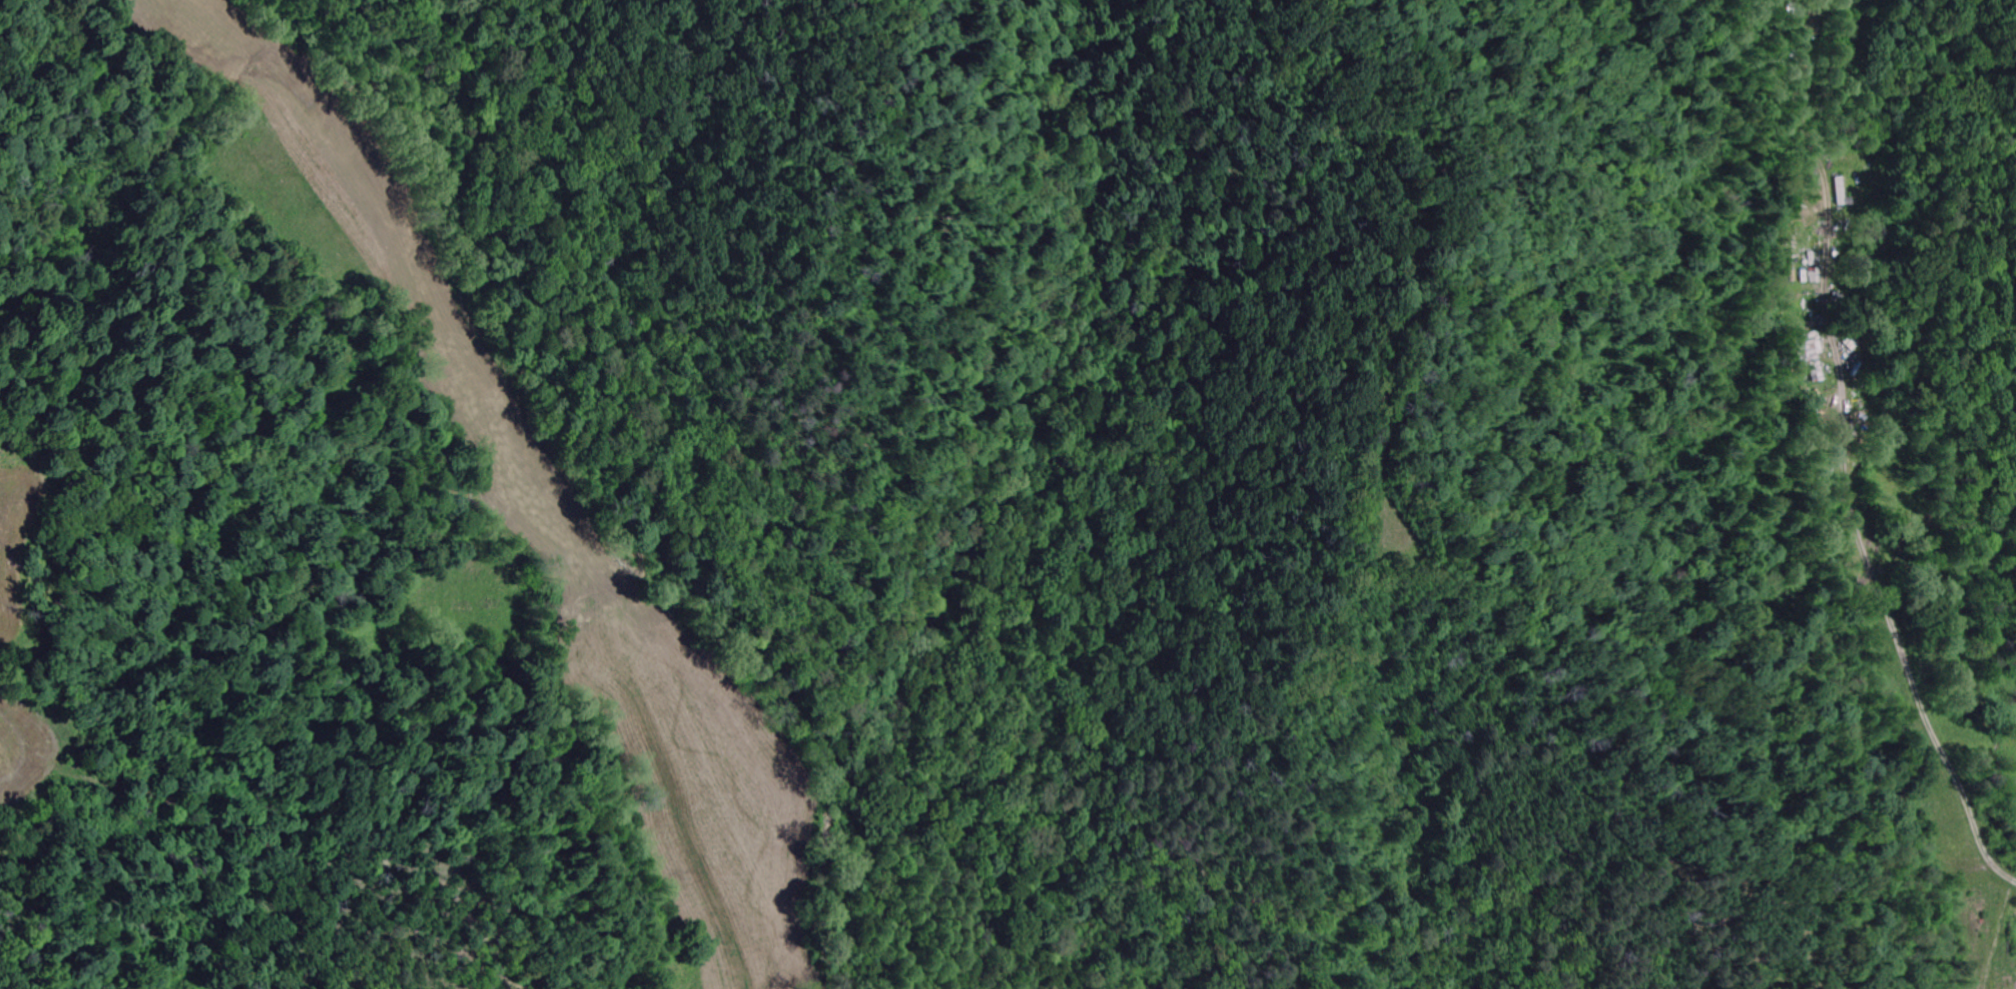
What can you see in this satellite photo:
building: (1804, 353)
road: (1864, 549)

